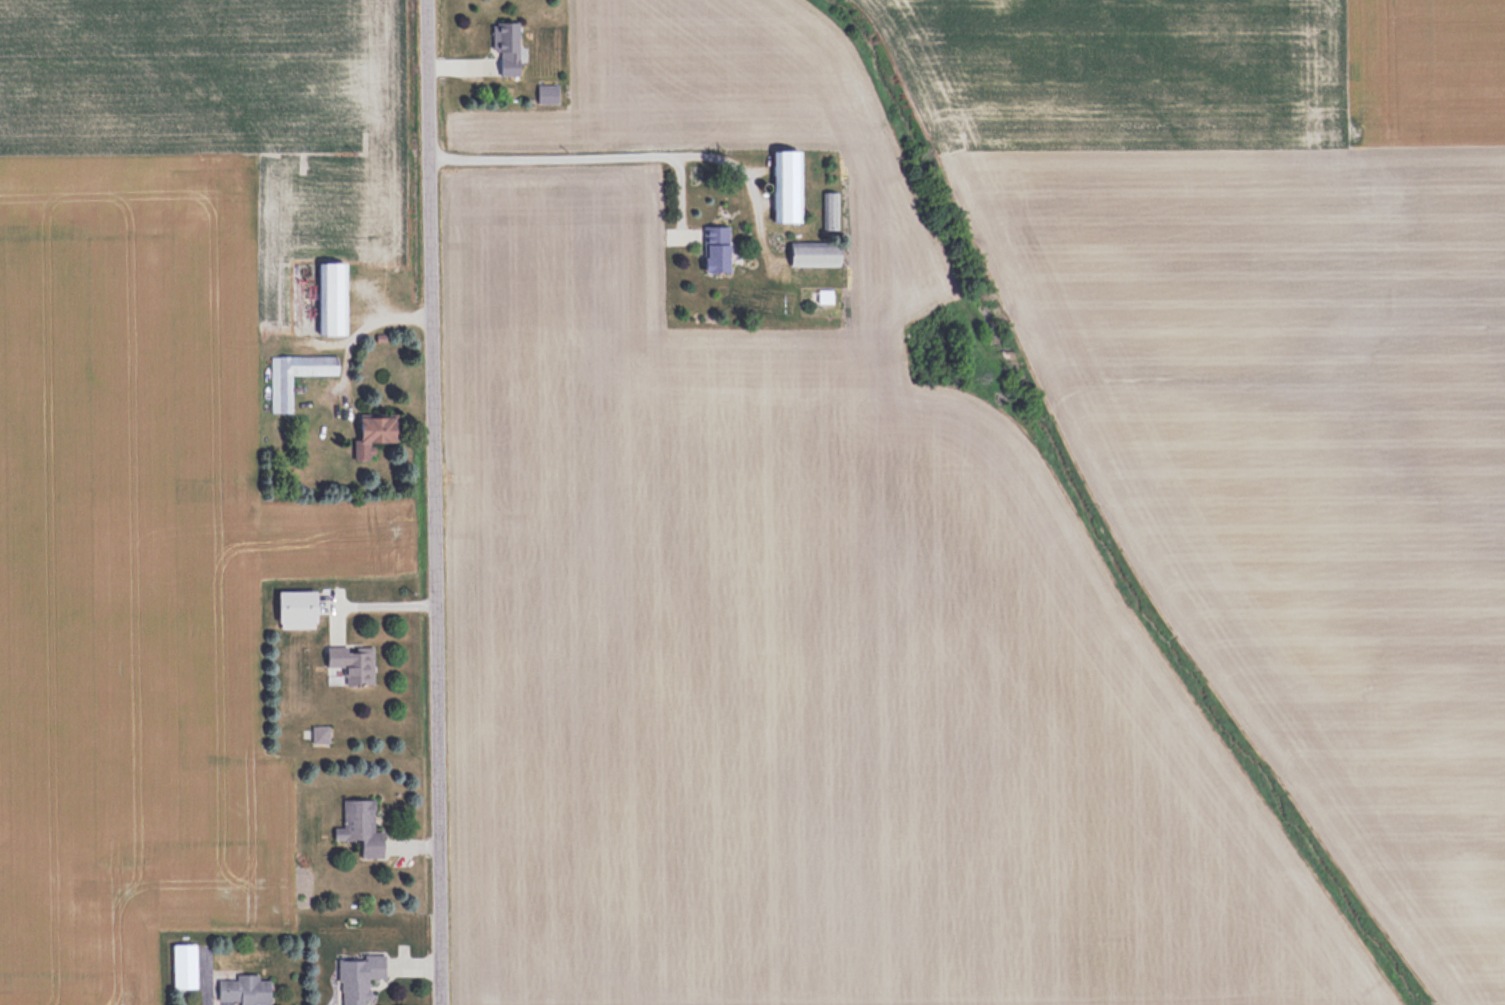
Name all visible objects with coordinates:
building: (505, 47)
building: (546, 93)
road: (632, 151)
building: (786, 185)
building: (830, 210)
building: (715, 248)
building: (813, 255)
building: (332, 299)
road: (366, 321)
building: (281, 394)
building: (373, 435)
road: (434, 502)
road: (369, 600)
building: (295, 609)
building: (353, 665)
building: (319, 734)
building: (359, 828)
building: (182, 967)
building: (356, 978)
building: (243, 990)

